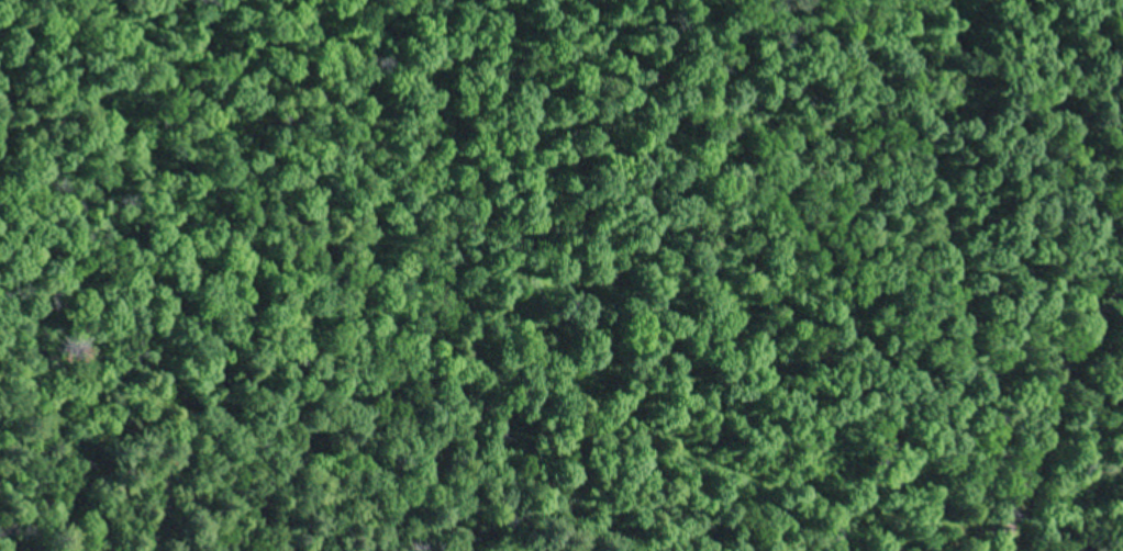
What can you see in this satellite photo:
road: (1036, 439)

